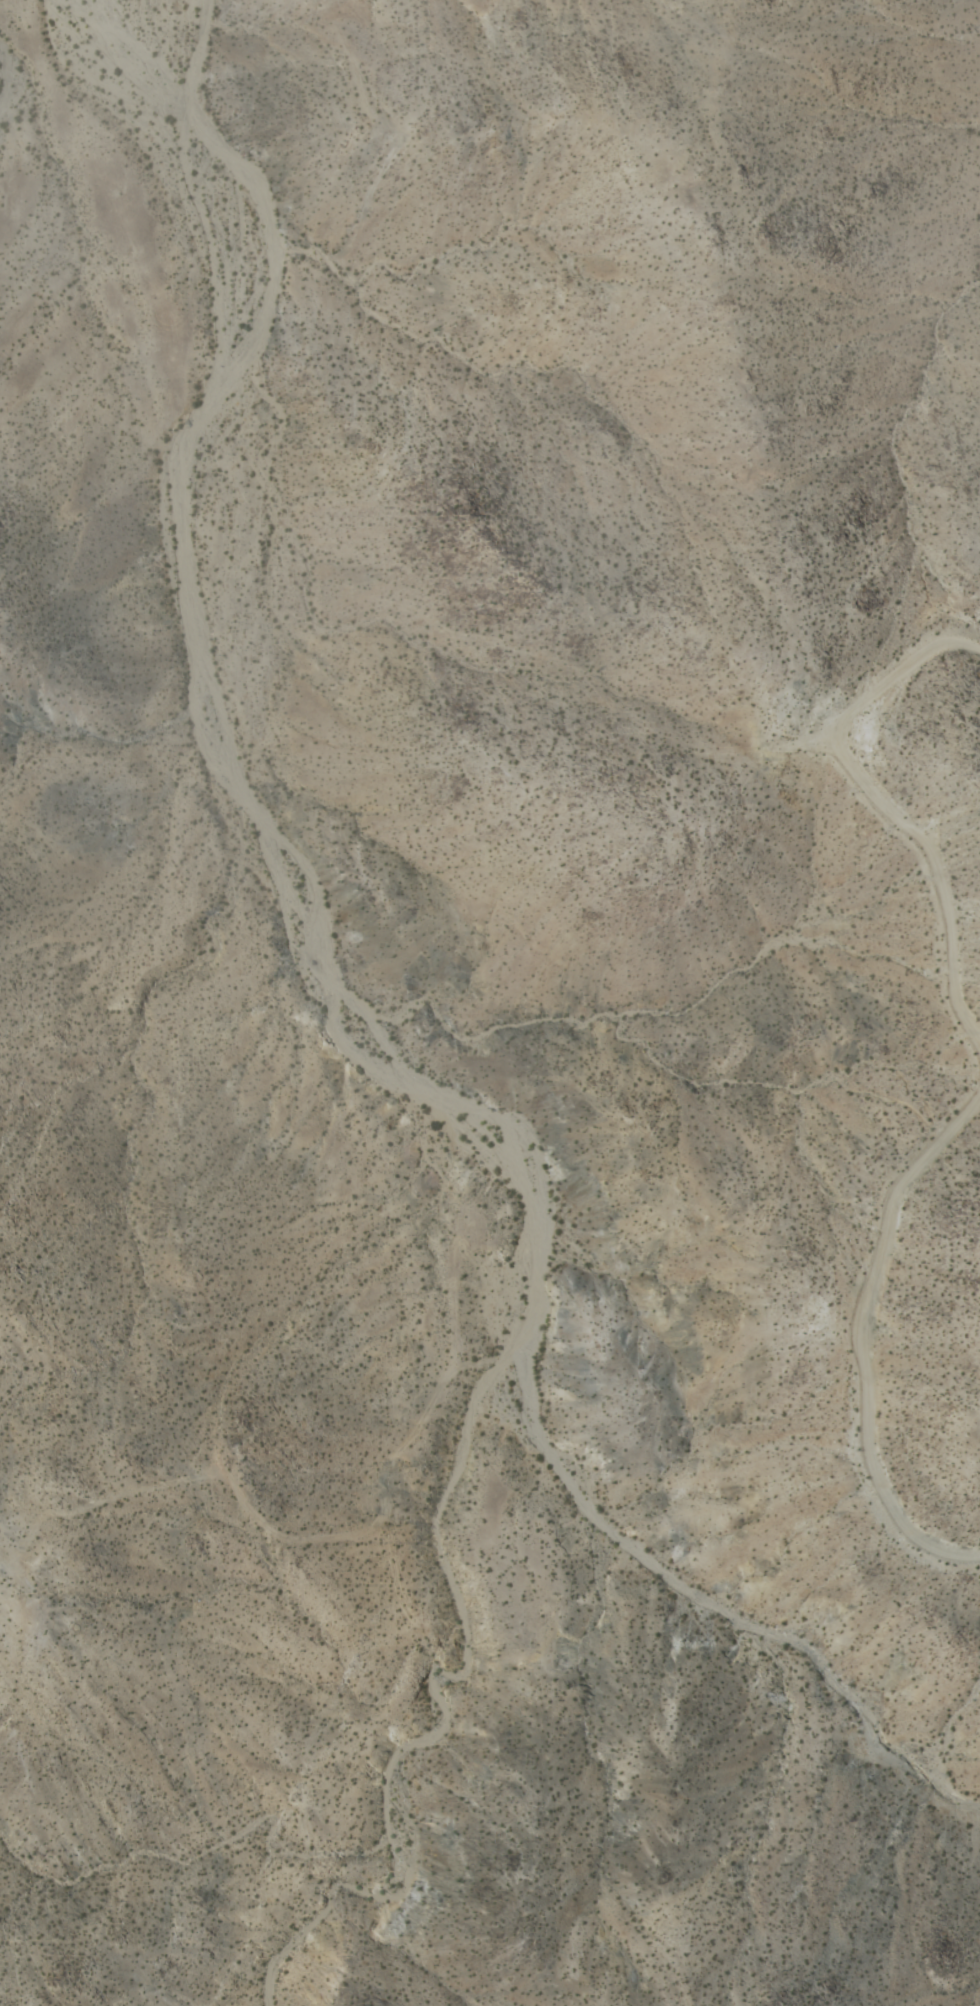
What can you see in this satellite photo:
road: (888, 804)
road: (867, 1339)

